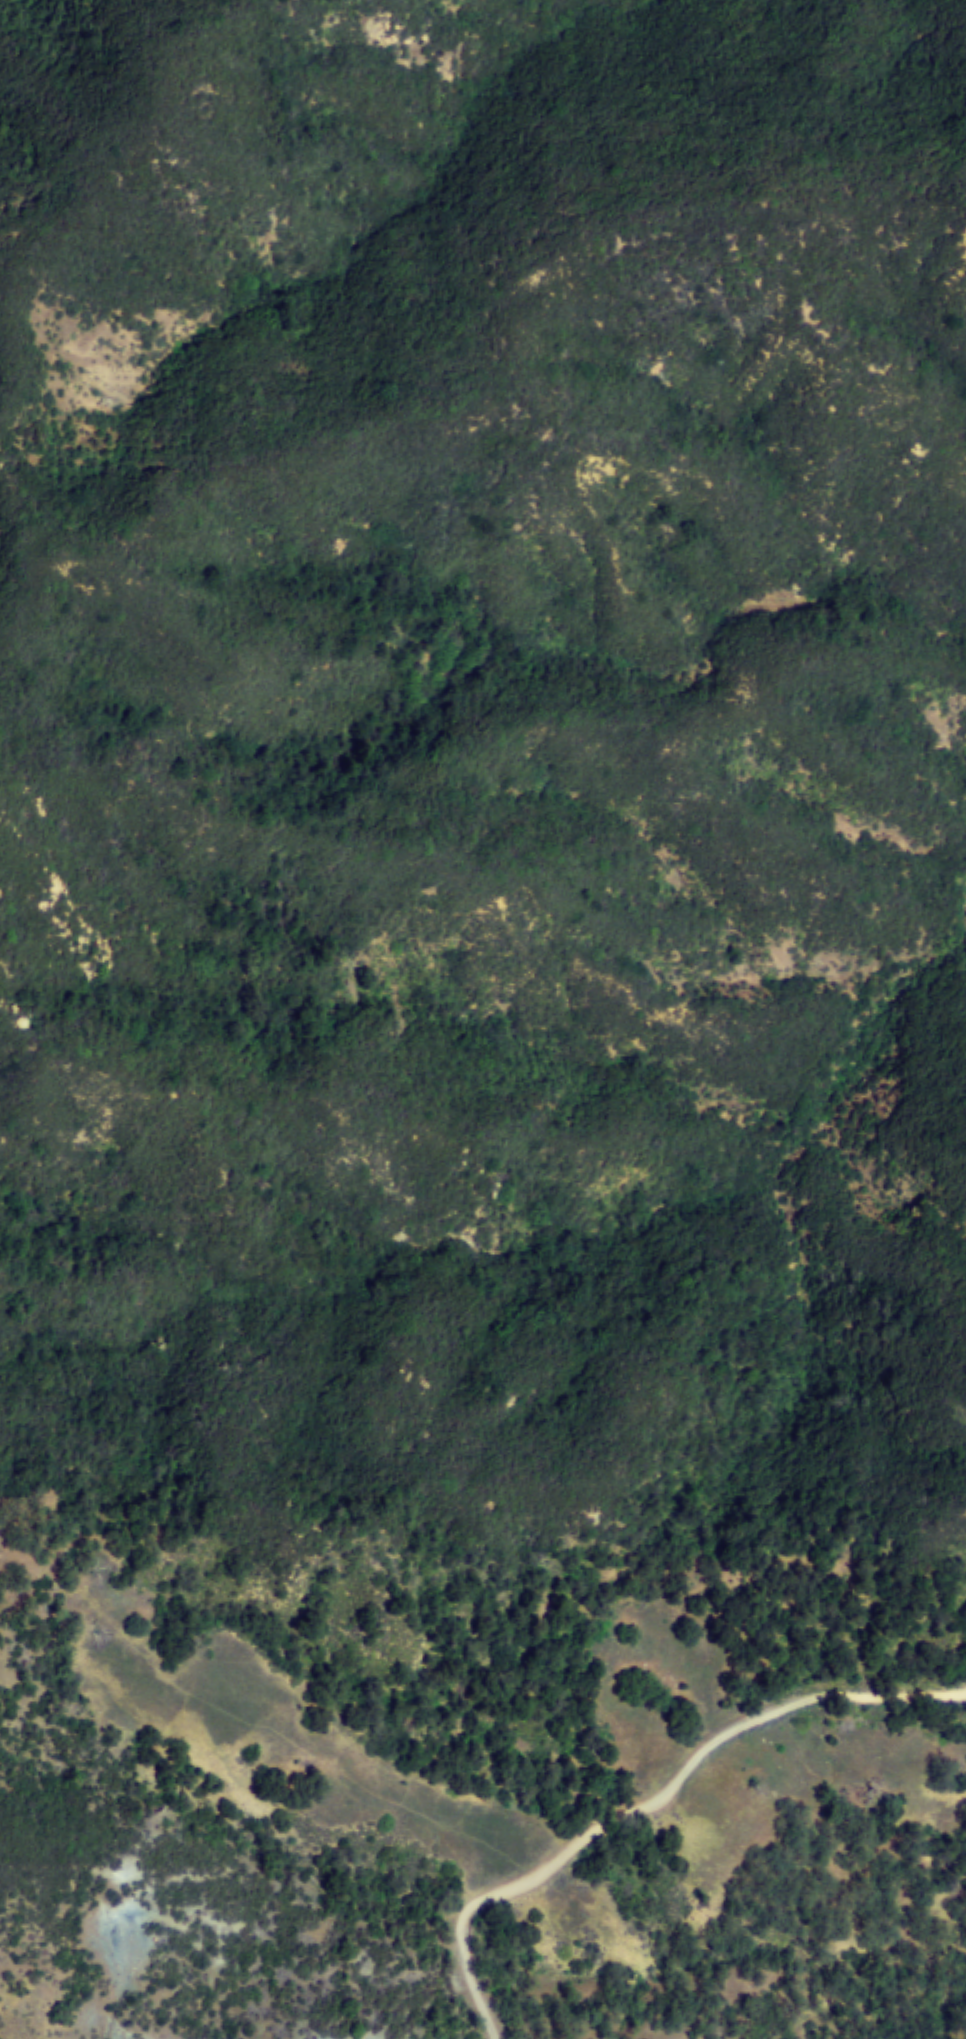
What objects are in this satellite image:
road: (651, 1805)

